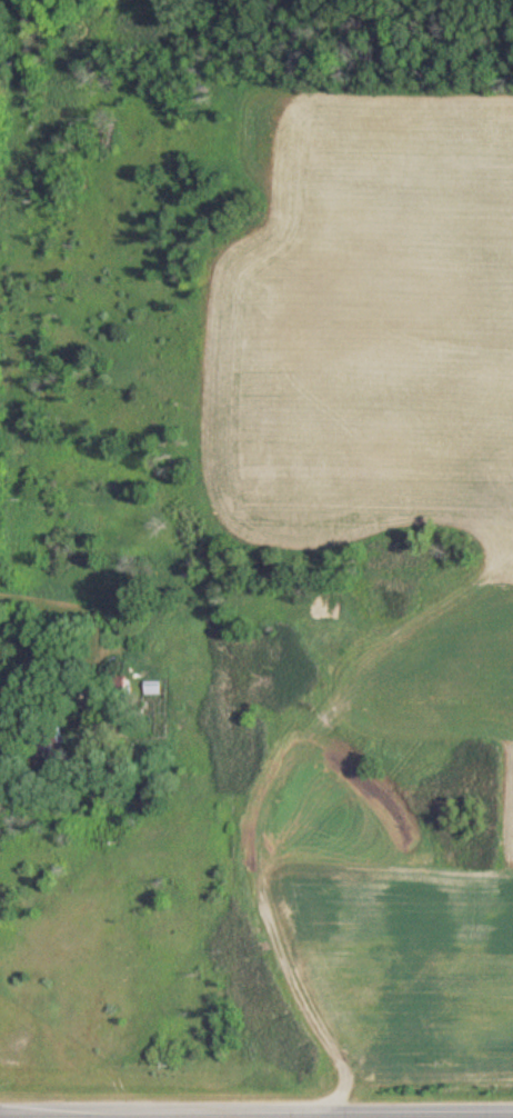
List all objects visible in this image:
building: (153, 688)

